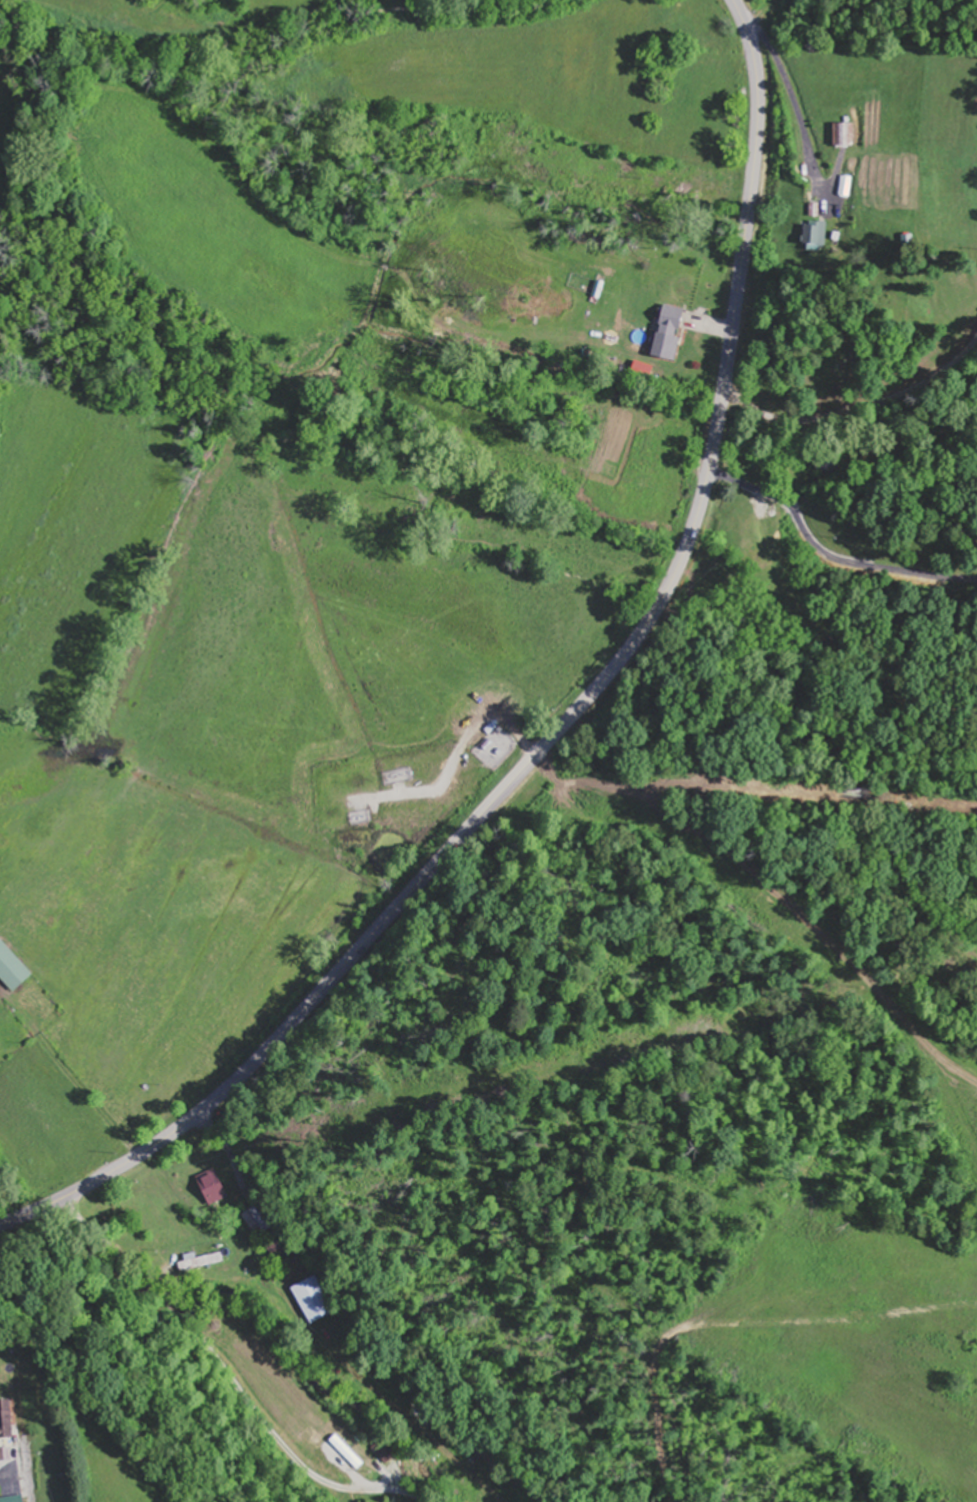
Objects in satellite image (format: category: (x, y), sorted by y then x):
building: (842, 135)
building: (847, 186)
building: (707, 193)
building: (814, 236)
building: (665, 333)
building: (759, 559)
road: (568, 718)
building: (10, 969)
building: (209, 1189)
building: (311, 1300)
road: (206, 1342)
building: (9, 1423)
road: (402, 1494)
building: (13, 1498)

